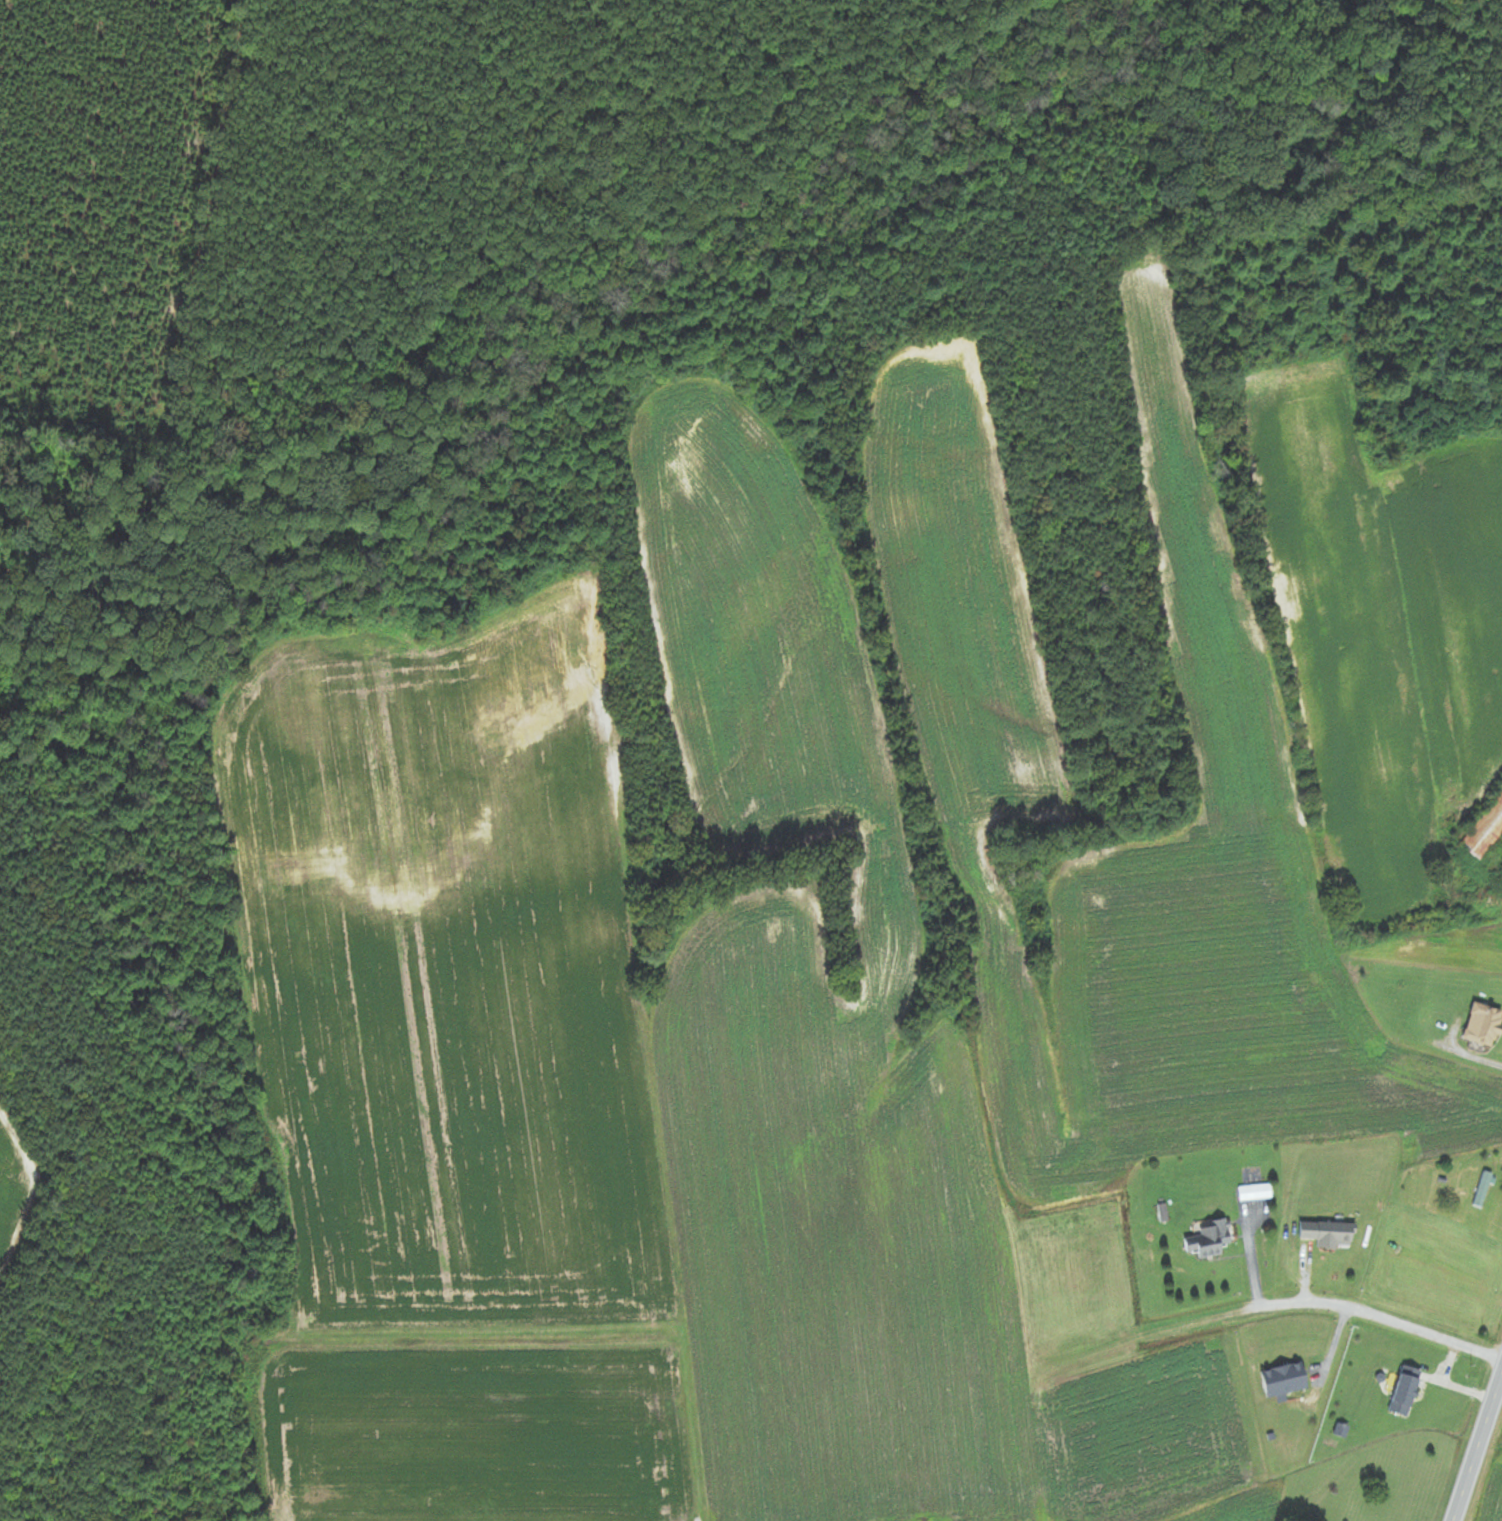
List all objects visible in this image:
building: (1485, 833)
building: (1302, 994)
building: (1483, 1025)
building: (1483, 1190)
building: (1327, 1234)
building: (1209, 1240)
road: (1268, 1304)
building: (1284, 1380)
building: (1405, 1391)
road: (1478, 1450)

